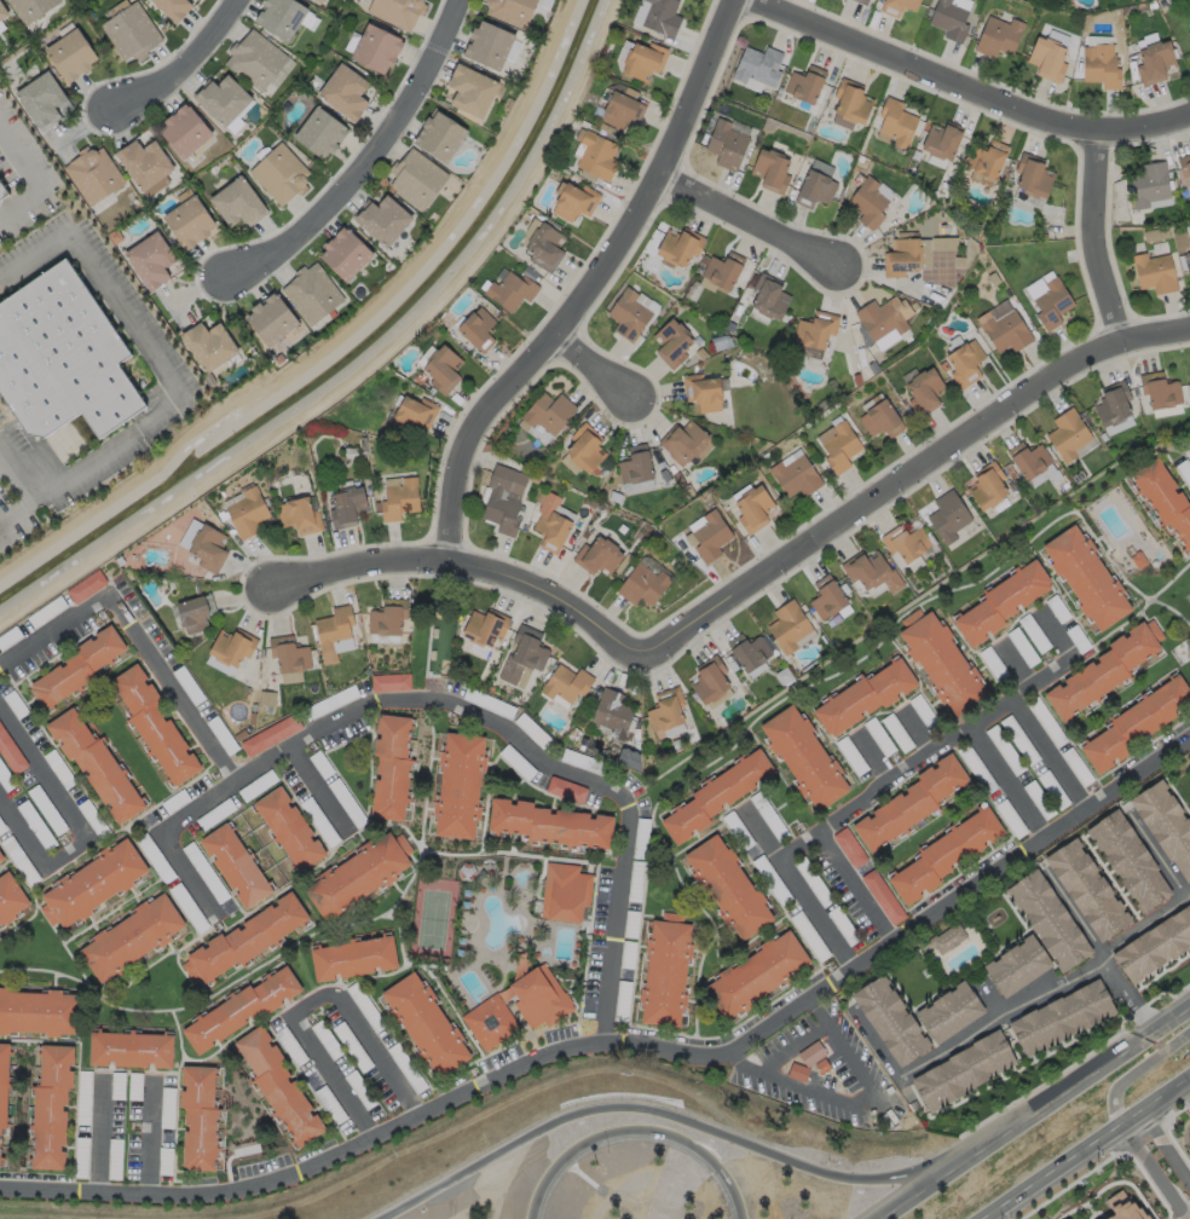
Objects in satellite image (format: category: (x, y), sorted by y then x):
building: (320, 0)
building: (862, 1)
building: (900, 7)
building: (31, 8)
building: (174, 8)
building: (512, 10)
building: (2, 11)
building: (395, 11)
building: (282, 17)
building: (663, 17)
building: (951, 21)
building: (131, 31)
building: (1189, 34)
building: (1000, 37)
building: (487, 45)
building: (377, 48)
building: (73, 56)
building: (1050, 60)
building: (258, 62)
building: (646, 62)
building: (1156, 63)
road: (180, 65)
building: (759, 67)
building: (1102, 67)
road: (969, 81)
building: (807, 85)
building: (472, 91)
building: (346, 92)
building: (224, 98)
building: (42, 100)
building: (853, 103)
building: (623, 110)
building: (897, 125)
building: (184, 129)
building: (322, 133)
building: (440, 135)
building: (943, 141)
building: (728, 145)
building: (597, 157)
building: (989, 160)
building: (145, 162)
road: (365, 164)
building: (1185, 166)
building: (281, 172)
building: (773, 172)
building: (96, 174)
building: (1034, 177)
building: (417, 179)
road: (36, 183)
building: (1150, 186)
building: (816, 190)
building: (4, 191)
building: (576, 202)
building: (237, 203)
building: (870, 204)
building: (385, 218)
building: (190, 223)
road: (755, 229)
road: (1093, 235)
building: (544, 247)
building: (681, 247)
building: (346, 255)
building: (903, 258)
building: (1186, 260)
building: (151, 261)
building: (724, 272)
building: (1155, 272)
road: (594, 285)
building: (510, 290)
building: (313, 293)
building: (770, 299)
building: (1052, 302)
building: (631, 308)
building: (885, 318)
building: (272, 319)
building: (478, 329)
building: (818, 331)
building: (1006, 331)
building: (674, 339)
building: (210, 345)
building: (747, 354)
building: (67, 360)
building: (965, 363)
building: (441, 368)
road: (593, 370)
road: (160, 372)
building: (1189, 376)
building: (1160, 389)
building: (701, 391)
building: (924, 391)
building: (1105, 395)
building: (548, 412)
building: (412, 414)
building: (880, 418)
building: (1068, 434)
building: (683, 441)
building: (839, 445)
building: (584, 446)
building: (1029, 458)
building: (635, 467)
road: (1, 468)
road: (901, 468)
building: (795, 475)
building: (987, 486)
building: (503, 498)
building: (399, 499)
building: (1166, 499)
road: (30, 504)
building: (346, 505)
building: (752, 508)
building: (247, 512)
building: (299, 515)
building: (947, 515)
building: (551, 524)
building: (711, 536)
building: (905, 542)
building: (208, 547)
building: (597, 556)
road: (464, 567)
building: (1082, 568)
building: (871, 571)
building: (635, 583)
building: (86, 585)
building: (824, 594)
building: (997, 594)
building: (1049, 599)
building: (195, 612)
building: (388, 617)
building: (780, 617)
building: (1026, 625)
building: (485, 626)
building: (1068, 628)
building: (334, 632)
building: (1013, 637)
building: (231, 646)
building: (745, 649)
building: (936, 653)
building: (289, 654)
building: (984, 655)
building: (522, 657)
building: (1098, 664)
road: (1015, 666)
building: (734, 668)
building: (79, 669)
building: (559, 675)
building: (706, 675)
building: (785, 676)
building: (389, 682)
building: (857, 688)
building: (333, 700)
building: (658, 700)
building: (917, 703)
building: (606, 704)
road: (380, 707)
building: (1041, 717)
building: (1131, 717)
building: (889, 722)
building: (155, 727)
building: (870, 728)
road: (914, 729)
building: (1012, 730)
building: (270, 734)
road: (942, 736)
building: (997, 741)
building: (678, 745)
building: (843, 747)
building: (624, 749)
building: (11, 750)
building: (578, 753)
building: (803, 753)
road: (871, 755)
road: (1046, 755)
building: (1189, 755)
building: (629, 758)
building: (1068, 758)
building: (516, 762)
building: (972, 763)
building: (391, 764)
building: (96, 768)
building: (555, 780)
building: (1046, 780)
road: (1004, 782)
building: (458, 785)
road: (319, 788)
building: (709, 788)
building: (1030, 788)
building: (566, 790)
building: (906, 792)
building: (761, 807)
building: (1004, 808)
building: (548, 815)
building: (1163, 815)
building: (730, 821)
building: (288, 827)
building: (632, 827)
road: (83, 831)
road: (169, 839)
building: (843, 839)
building: (938, 849)
building: (1125, 850)
road: (1157, 850)
building: (1, 855)
building: (1, 857)
building: (235, 863)
building: (626, 871)
building: (763, 871)
building: (357, 874)
building: (805, 874)
building: (722, 876)
building: (1084, 877)
building: (97, 880)
road: (849, 884)
road: (798, 888)
building: (876, 888)
building: (565, 890)
building: (11, 896)
building: (181, 899)
road: (1074, 909)
building: (1046, 912)
building: (623, 913)
building: (834, 915)
park: (432, 918)
building: (801, 926)
building: (947, 935)
building: (135, 936)
building: (1154, 936)
building: (244, 937)
road: (1099, 938)
building: (619, 944)
building: (353, 955)
building: (1013, 957)
building: (660, 963)
building: (755, 963)
building: (614, 990)
building: (356, 993)
building: (538, 998)
building: (945, 1004)
road: (313, 1007)
building: (1056, 1007)
building: (242, 1009)
building: (885, 1011)
building: (40, 1012)
building: (491, 1022)
building: (423, 1023)
road: (960, 1033)
building: (325, 1039)
road: (628, 1044)
road: (790, 1044)
building: (352, 1046)
building: (808, 1047)
building: (132, 1048)
building: (815, 1057)
building: (959, 1062)
building: (790, 1063)
building: (797, 1071)
road: (1136, 1075)
building: (356, 1082)
building: (282, 1085)
building: (2, 1092)
road: (851, 1105)
building: (52, 1107)
road: (1033, 1111)
building: (200, 1116)
road: (680, 1119)
road: (636, 1131)
road: (102, 1137)
road: (151, 1138)
road: (1166, 1149)
road: (1090, 1150)
road: (1153, 1174)
building: (1120, 1208)
building: (1061, 1217)

